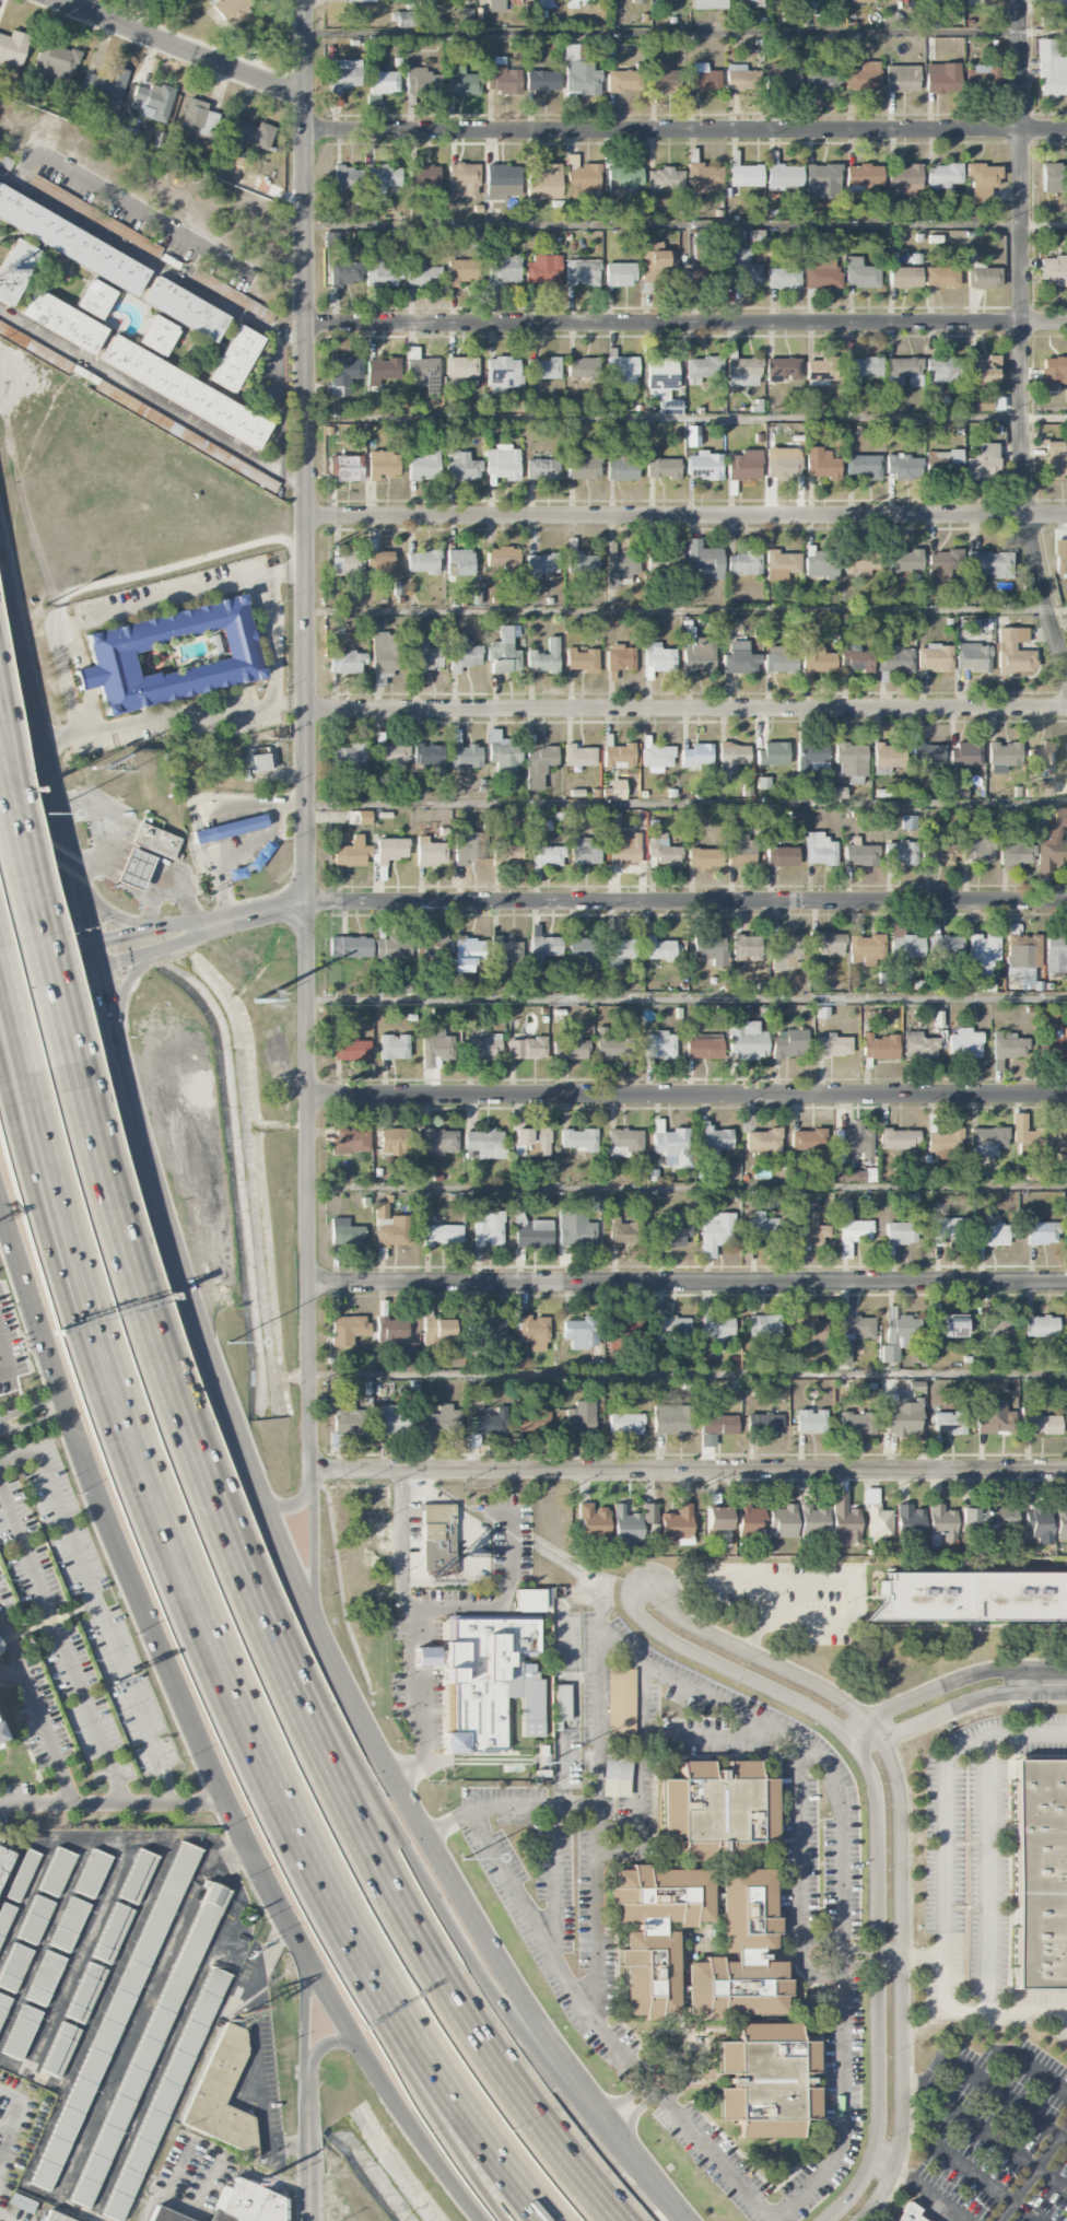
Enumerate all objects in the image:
building: (359, 0)
building: (637, 1)
building: (860, 1)
building: (176, 2)
building: (1053, 2)
building: (559, 3)
building: (708, 4)
building: (495, 5)
building: (231, 9)
building: (464, 17)
building: (402, 19)
road: (1044, 31)
building: (12, 47)
road: (181, 48)
building: (55, 61)
building: (1051, 70)
building: (579, 74)
building: (781, 77)
building: (863, 77)
building: (977, 77)
building: (343, 78)
building: (502, 78)
building: (661, 78)
building: (701, 78)
building: (740, 78)
building: (941, 78)
building: (901, 79)
building: (541, 81)
building: (623, 81)
building: (820, 81)
building: (461, 82)
building: (105, 85)
building: (382, 85)
building: (152, 102)
building: (198, 117)
building: (145, 128)
building: (127, 130)
road: (685, 130)
building: (244, 137)
building: (4, 162)
building: (744, 175)
building: (864, 175)
building: (423, 176)
building: (783, 176)
building: (942, 176)
building: (1053, 177)
building: (347, 178)
building: (541, 178)
building: (664, 178)
building: (703, 178)
building: (903, 178)
building: (382, 179)
building: (461, 179)
building: (822, 180)
building: (982, 180)
building: (502, 182)
building: (582, 182)
building: (623, 182)
road: (130, 203)
road: (685, 224)
building: (332, 239)
building: (70, 241)
building: (414, 245)
road: (137, 258)
building: (656, 265)
building: (742, 267)
building: (15, 269)
building: (543, 269)
building: (1054, 270)
building: (461, 271)
building: (703, 271)
building: (344, 272)
building: (378, 272)
building: (581, 272)
building: (421, 273)
building: (501, 273)
building: (821, 273)
building: (860, 273)
building: (619, 274)
building: (904, 277)
building: (941, 277)
building: (982, 277)
building: (783, 278)
building: (94, 297)
building: (184, 308)
building: (61, 319)
road: (687, 323)
building: (157, 334)
road: (280, 335)
road: (295, 336)
road: (1022, 337)
building: (234, 358)
building: (461, 367)
building: (582, 367)
building: (703, 367)
building: (421, 369)
building: (543, 369)
building: (621, 369)
building: (380, 370)
building: (740, 370)
building: (783, 370)
building: (861, 370)
building: (941, 370)
building: (822, 371)
building: (903, 371)
building: (1053, 373)
building: (503, 374)
building: (342, 375)
building: (661, 381)
road: (136, 389)
building: (184, 391)
road: (273, 401)
road: (1044, 417)
road: (664, 418)
building: (181, 433)
building: (1054, 461)
building: (783, 463)
building: (984, 463)
building: (821, 464)
building: (383, 465)
building: (742, 465)
building: (943, 465)
building: (424, 466)
building: (583, 466)
building: (703, 466)
building: (864, 466)
building: (345, 467)
building: (461, 467)
building: (620, 467)
building: (903, 467)
building: (663, 468)
building: (542, 469)
road: (279, 474)
road: (295, 479)
road: (685, 516)
building: (703, 558)
building: (502, 559)
building: (380, 561)
building: (460, 561)
building: (904, 561)
building: (422, 562)
building: (744, 562)
building: (858, 562)
building: (541, 563)
building: (582, 563)
building: (821, 563)
building: (942, 563)
building: (988, 563)
road: (167, 564)
building: (781, 564)
building: (1060, 564)
building: (621, 569)
road: (281, 573)
road: (266, 604)
road: (1057, 610)
road: (676, 611)
building: (504, 651)
building: (1013, 651)
building: (462, 654)
building: (695, 654)
building: (171, 655)
building: (384, 655)
building: (423, 656)
building: (544, 657)
building: (620, 657)
building: (934, 657)
building: (973, 657)
building: (739, 658)
building: (582, 659)
building: (657, 659)
building: (817, 659)
building: (895, 659)
building: (778, 661)
building: (856, 661)
building: (345, 662)
road: (684, 710)
road: (36, 726)
road: (303, 739)
building: (257, 750)
building: (502, 752)
building: (390, 753)
building: (773, 753)
building: (927, 753)
building: (465, 755)
building: (696, 755)
building: (349, 756)
building: (578, 756)
building: (618, 756)
building: (964, 756)
building: (1043, 756)
building: (429, 757)
building: (656, 757)
building: (811, 757)
building: (1002, 757)
building: (888, 758)
building: (731, 759)
building: (259, 762)
building: (851, 762)
building: (538, 765)
road: (12, 778)
building: (1043, 788)
building: (615, 790)
road: (102, 802)
road: (685, 804)
road: (13, 822)
building: (908, 822)
building: (230, 828)
building: (154, 840)
building: (1052, 844)
building: (466, 845)
building: (623, 849)
building: (389, 850)
building: (739, 850)
building: (819, 850)
building: (976, 851)
road: (96, 852)
building: (430, 852)
building: (584, 852)
building: (661, 852)
building: (351, 853)
building: (506, 853)
building: (900, 853)
building: (937, 853)
building: (1016, 854)
road: (152, 855)
building: (546, 855)
building: (860, 855)
building: (781, 856)
building: (703, 857)
building: (132, 868)
gas station: (132, 868)
road: (187, 887)
road: (685, 902)
road: (154, 905)
road: (85, 907)
road: (256, 914)
road: (113, 915)
road: (50, 917)
road: (150, 928)
traffic signals: (117, 937)
building: (826, 943)
building: (392, 945)
building: (905, 945)
building: (350, 946)
building: (432, 947)
building: (544, 947)
building: (746, 947)
building: (945, 947)
building: (658, 949)
building: (865, 949)
road: (154, 950)
building: (504, 950)
building: (710, 950)
building: (581, 951)
building: (619, 951)
building: (785, 951)
building: (983, 951)
building: (467, 954)
building: (1055, 954)
road: (47, 955)
road: (96, 955)
building: (1023, 956)
road: (48, 967)
traffic signals: (72, 974)
road: (49, 979)
road: (126, 981)
traffic signals: (105, 991)
road: (687, 1001)
power tower: (256, 1002)
power tower: (547, 1002)
power tower: (811, 1002)
road: (107, 1004)
road: (61, 1015)
road: (14, 1018)
building: (1051, 1037)
building: (746, 1041)
building: (964, 1043)
building: (658, 1045)
building: (788, 1045)
building: (833, 1045)
building: (394, 1047)
building: (612, 1047)
building: (702, 1047)
building: (879, 1047)
building: (918, 1047)
building: (435, 1048)
building: (482, 1048)
building: (526, 1048)
building: (570, 1048)
building: (1007, 1048)
building: (350, 1049)
road: (1, 1075)
road: (687, 1095)
road: (138, 1115)
building: (899, 1138)
building: (578, 1139)
building: (1032, 1139)
building: (351, 1141)
building: (394, 1141)
building: (437, 1141)
building: (533, 1141)
building: (713, 1141)
building: (763, 1141)
building: (808, 1141)
building: (987, 1141)
building: (623, 1142)
building: (857, 1142)
building: (485, 1143)
building: (946, 1144)
building: (672, 1147)
building: (1063, 1147)
road: (688, 1188)
building: (1066, 1220)
building: (389, 1227)
building: (488, 1228)
building: (762, 1228)
building: (576, 1229)
building: (629, 1229)
building: (807, 1229)
building: (852, 1229)
building: (947, 1229)
building: (902, 1231)
building: (715, 1232)
building: (344, 1234)
building: (533, 1234)
building: (1041, 1234)
building: (443, 1235)
building: (671, 1235)
building: (990, 1235)
road: (73, 1249)
road: (49, 1256)
road: (181, 1272)
road: (688, 1282)
building: (764, 1325)
building: (855, 1325)
building: (952, 1325)
building: (715, 1326)
building: (1041, 1326)
building: (1066, 1326)
building: (625, 1328)
building: (672, 1328)
building: (996, 1328)
building: (391, 1329)
building: (347, 1330)
building: (436, 1330)
building: (806, 1331)
building: (532, 1332)
building: (582, 1332)
building: (898, 1336)
road: (49, 1352)
building: (842, 1355)
building: (1066, 1355)
road: (689, 1373)
road: (31, 1407)
building: (902, 1414)
building: (581, 1417)
building: (993, 1417)
building: (396, 1419)
building: (672, 1419)
building: (443, 1421)
building: (531, 1421)
building: (810, 1422)
building: (856, 1422)
building: (949, 1422)
building: (489, 1423)
building: (716, 1423)
building: (763, 1423)
road: (34, 1424)
building: (625, 1424)
building: (1041, 1425)
road: (689, 1470)
road: (290, 1506)
building: (648, 1512)
building: (1005, 1517)
building: (715, 1518)
building: (973, 1518)
building: (813, 1519)
building: (748, 1521)
building: (783, 1521)
building: (844, 1521)
building: (878, 1521)
building: (910, 1522)
building: (1060, 1522)
building: (1037, 1523)
building: (591, 1524)
building: (675, 1524)
building: (625, 1526)
building: (941, 1526)
building: (437, 1538)
road: (314, 1551)
road: (464, 1581)
road: (819, 1581)
road: (504, 1592)
building: (972, 1594)
building: (530, 1595)
road: (566, 1598)
road: (99, 1610)
road: (752, 1616)
road: (412, 1634)
road: (62, 1648)
road: (162, 1653)
building: (0, 1661)
road: (277, 1673)
building: (484, 1674)
road: (950, 1683)
road: (699, 1692)
road: (1021, 1700)
building: (620, 1702)
building: (562, 1703)
building: (532, 1706)
road: (958, 1706)
road: (37, 1710)
road: (572, 1730)
road: (251, 1733)
road: (1004, 1733)
road: (703, 1735)
road: (375, 1742)
building: (615, 1774)
road: (633, 1774)
road: (114, 1804)
building: (717, 1808)
road: (447, 1822)
road: (877, 1840)
road: (394, 1842)
road: (799, 1844)
road: (899, 1847)
building: (3, 1858)
building: (1039, 1871)
building: (56, 1872)
building: (92, 1873)
road: (987, 1873)
building: (22, 1875)
building: (137, 1877)
road: (553, 1881)
building: (661, 1894)
road: (597, 1908)
building: (746, 1909)
building: (4, 1917)
building: (35, 1919)
building: (69, 1925)
building: (112, 1933)
road: (945, 1943)
road: (801, 1956)
road: (922, 1956)
building: (14, 1967)
building: (649, 1972)
building: (45, 1978)
building: (735, 1986)
building: (84, 1992)
road: (305, 2002)
building: (3, 2006)
road: (1058, 2015)
building: (114, 2017)
road: (340, 2021)
building: (21, 2032)
road: (325, 2043)
road: (260, 2048)
building: (59, 2049)
road: (679, 2059)
road: (1041, 2071)
building: (766, 2078)
building: (220, 2091)
road: (1009, 2096)
road: (471, 2130)
road: (444, 2132)
road: (983, 2134)
road: (308, 2142)
road: (633, 2164)
road: (1032, 2171)
road: (985, 2179)
road: (923, 2186)
building: (245, 2204)
building: (906, 2212)
road: (941, 2212)
building: (165, 2216)
building: (55, 2217)

